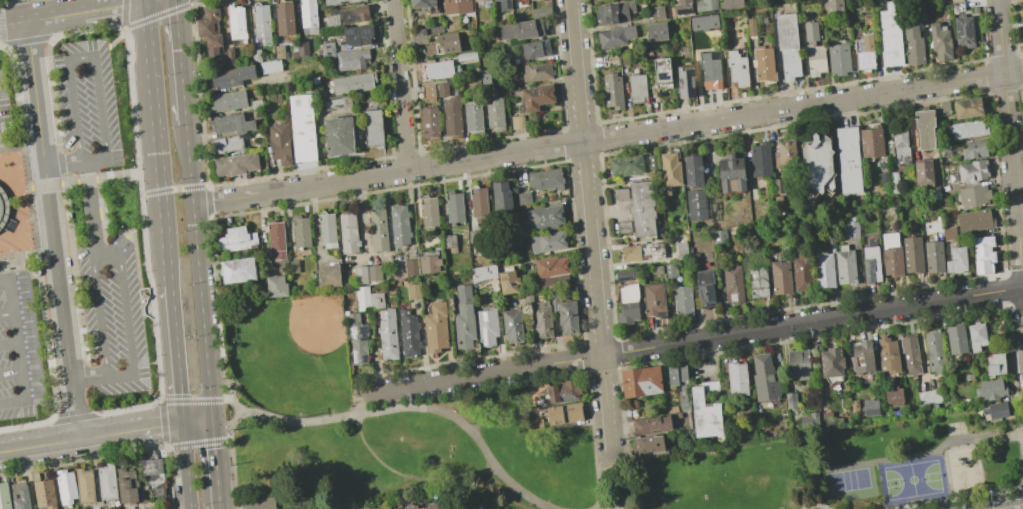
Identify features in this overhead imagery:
building: (353, 0)
building: (479, 0)
building: (494, 0)
building: (532, 0)
building: (955, 0)
building: (331, 2)
building: (422, 3)
building: (732, 3)
park: (4, 4)
building: (504, 4)
building: (705, 5)
building: (832, 5)
traffic signals: (120, 6)
building: (456, 6)
building: (682, 7)
building: (957, 7)
building: (1021, 10)
building: (541, 11)
building: (619, 12)
building: (657, 12)
road: (73, 13)
traffic signals: (176, 14)
building: (346, 15)
road: (1, 16)
building: (283, 17)
building: (307, 17)
building: (236, 22)
building: (261, 23)
building: (1022, 28)
rooftop solar panel: (959, 29)
building: (209, 30)
building: (521, 30)
building: (658, 30)
building: (963, 31)
rooftop solar panel: (349, 33)
rooftop solar panel: (367, 33)
building: (892, 33)
building: (357, 35)
building: (418, 36)
building: (616, 37)
building: (940, 41)
building: (442, 44)
building: (790, 44)
building: (914, 44)
building: (302, 48)
building: (327, 49)
building: (536, 49)
building: (279, 51)
building: (867, 51)
building: (255, 55)
building: (229, 56)
building: (465, 56)
road: (82, 58)
building: (350, 59)
building: (817, 59)
building: (839, 59)
road: (179, 62)
building: (765, 63)
building: (270, 66)
building: (739, 69)
building: (436, 70)
building: (538, 72)
building: (664, 72)
building: (712, 72)
building: (230, 77)
building: (687, 82)
building: (353, 83)
road: (400, 85)
building: (639, 87)
building: (441, 89)
building: (615, 91)
building: (428, 93)
building: (539, 98)
building: (227, 101)
building: (332, 101)
parking lot: (87, 104)
building: (255, 104)
parking lot: (5, 105)
building: (944, 108)
building: (968, 108)
building: (495, 113)
building: (474, 116)
building: (452, 117)
building: (429, 122)
building: (517, 122)
building: (231, 124)
building: (303, 128)
building: (372, 128)
building: (926, 129)
building: (969, 129)
road: (3, 133)
building: (338, 136)
road: (607, 138)
road: (159, 142)
building: (871, 143)
road: (1010, 143)
building: (227, 144)
building: (279, 144)
building: (900, 144)
building: (974, 148)
building: (784, 154)
building: (760, 159)
building: (849, 160)
road: (74, 161)
building: (652, 161)
building: (820, 162)
building: (235, 164)
building: (625, 165)
building: (692, 170)
building: (670, 172)
building: (923, 172)
building: (973, 172)
building: (731, 173)
road: (116, 177)
building: (546, 179)
building: (883, 179)
building: (894, 182)
building: (778, 185)
road: (15, 190)
building: (932, 193)
building: (620, 194)
building: (972, 196)
building: (501, 197)
building: (523, 198)
road: (50, 199)
building: (777, 200)
road: (15, 204)
building: (478, 204)
building: (695, 204)
road: (92, 205)
building: (453, 207)
building: (642, 208)
building: (429, 212)
building: (5, 213)
building: (544, 217)
building: (974, 220)
rooftop solar panel: (10, 223)
building: (399, 225)
building: (850, 226)
building: (624, 227)
road: (590, 228)
road: (132, 229)
building: (327, 230)
building: (378, 230)
building: (301, 232)
building: (348, 233)
building: (948, 233)
building: (473, 236)
building: (719, 238)
building: (236, 239)
building: (276, 240)
building: (449, 241)
building: (547, 242)
building: (680, 249)
building: (630, 253)
building: (912, 254)
building: (982, 254)
building: (891, 255)
building: (934, 256)
building: (956, 260)
building: (429, 261)
road: (136, 262)
building: (871, 264)
building: (844, 265)
building: (293, 267)
building: (411, 267)
building: (656, 269)
building: (823, 269)
building: (238, 270)
building: (670, 270)
road: (3, 271)
building: (551, 271)
building: (483, 272)
building: (801, 272)
building: (35, 273)
road: (198, 273)
building: (374, 274)
road: (26, 275)
building: (359, 275)
building: (624, 275)
building: (329, 276)
building: (780, 277)
road: (5, 282)
building: (507, 282)
building: (757, 282)
building: (732, 283)
building: (276, 286)
building: (705, 287)
building: (413, 291)
building: (144, 294)
road: (132, 295)
road: (141, 295)
building: (368, 298)
building: (653, 299)
building: (682, 302)
building: (628, 304)
road: (7, 314)
building: (567, 316)
parking lot: (113, 317)
building: (464, 318)
rooftop solar panel: (484, 320)
building: (541, 321)
building: (512, 326)
building: (486, 327)
building: (435, 328)
rooftop solar panel: (352, 332)
rooftop solar panel: (363, 333)
building: (408, 333)
building: (387, 334)
building: (976, 336)
rooftop solar panel: (484, 337)
building: (357, 338)
building: (956, 339)
road: (698, 340)
road: (17, 341)
road: (9, 345)
parking lot: (19, 348)
building: (933, 351)
park: (290, 354)
building: (887, 354)
building: (909, 354)
road: (176, 355)
rooftop solar panel: (364, 358)
building: (861, 358)
rooftop solar panel: (354, 359)
building: (831, 362)
building: (797, 363)
building: (995, 364)
road: (11, 373)
building: (676, 374)
road: (124, 375)
road: (89, 376)
building: (968, 376)
building: (736, 378)
building: (764, 378)
building: (640, 381)
road: (139, 382)
building: (990, 389)
building: (563, 391)
building: (893, 396)
building: (929, 397)
building: (683, 398)
building: (790, 399)
road: (13, 401)
road: (506, 402)
building: (853, 406)
road: (76, 408)
road: (166, 408)
road: (400, 408)
building: (869, 408)
building: (995, 409)
building: (705, 411)
building: (564, 414)
building: (826, 419)
building: (809, 420)
traffic signals: (211, 421)
road: (197, 422)
building: (979, 422)
traffic signals: (183, 424)
building: (535, 424)
building: (651, 425)
road: (91, 438)
park: (551, 441)
building: (649, 446)
road: (905, 457)
road: (215, 464)
road: (186, 466)
road: (396, 474)
building: (154, 476)
park: (719, 478)
park: (914, 479)
park: (848, 480)
building: (106, 482)
road: (615, 483)
building: (65, 486)
building: (84, 486)
building: (43, 492)
building: (126, 492)
building: (19, 496)
building: (4, 497)
road: (957, 498)
building: (258, 503)
road: (815, 504)
building: (431, 505)
building: (469, 505)
road: (1009, 506)

